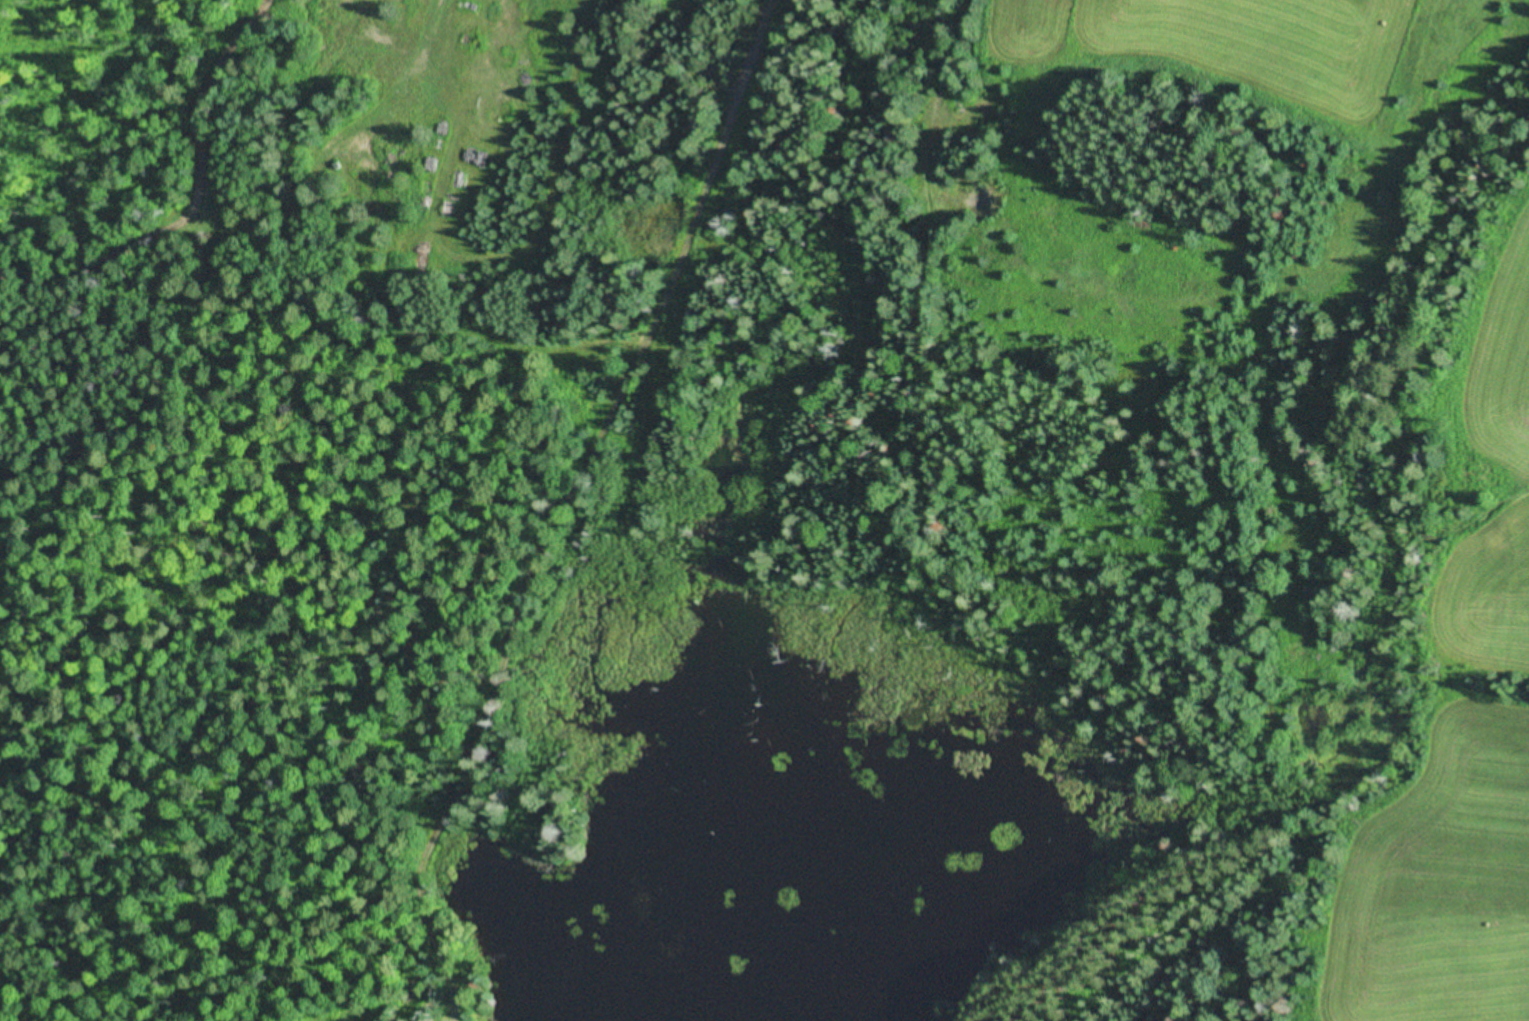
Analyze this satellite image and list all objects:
building: (494, 137)
road: (586, 510)

